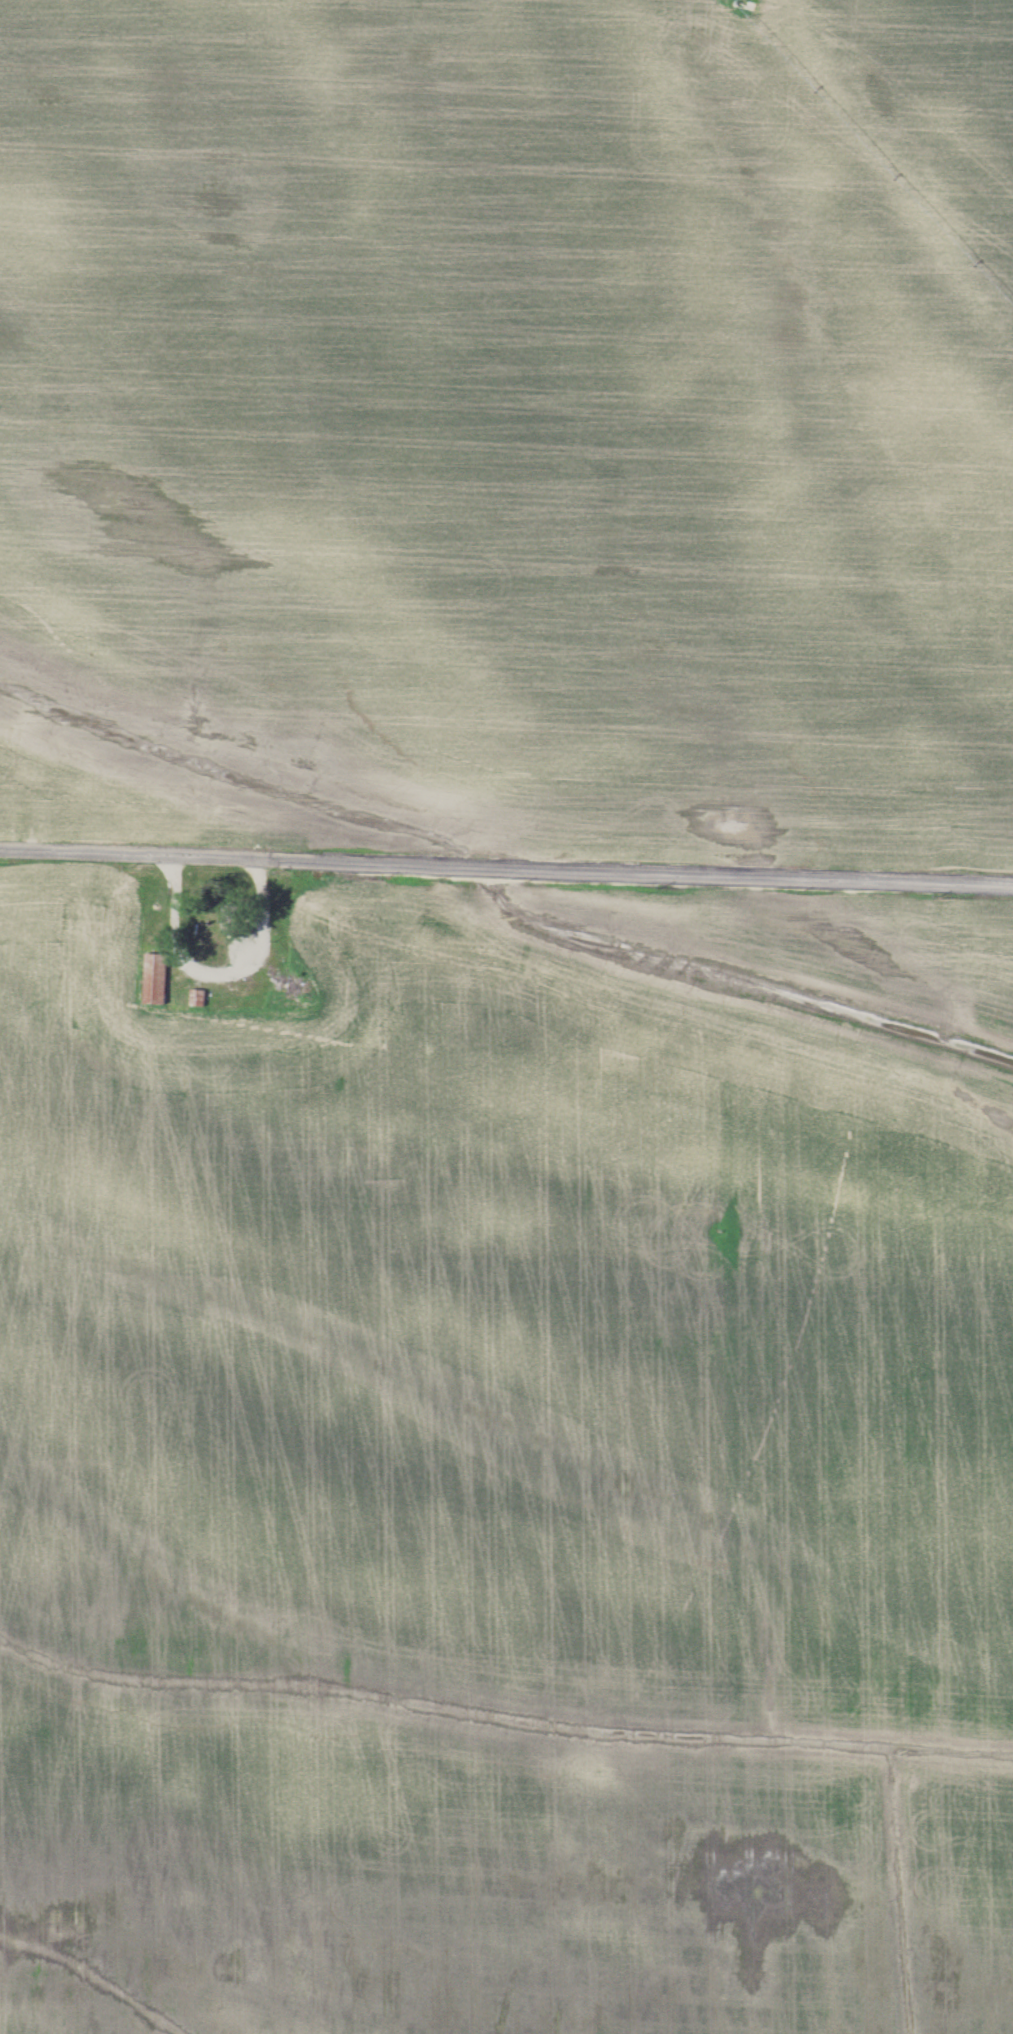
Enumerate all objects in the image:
crop: (510, 423)
road: (506, 858)
crop: (826, 940)
crop: (494, 1494)

